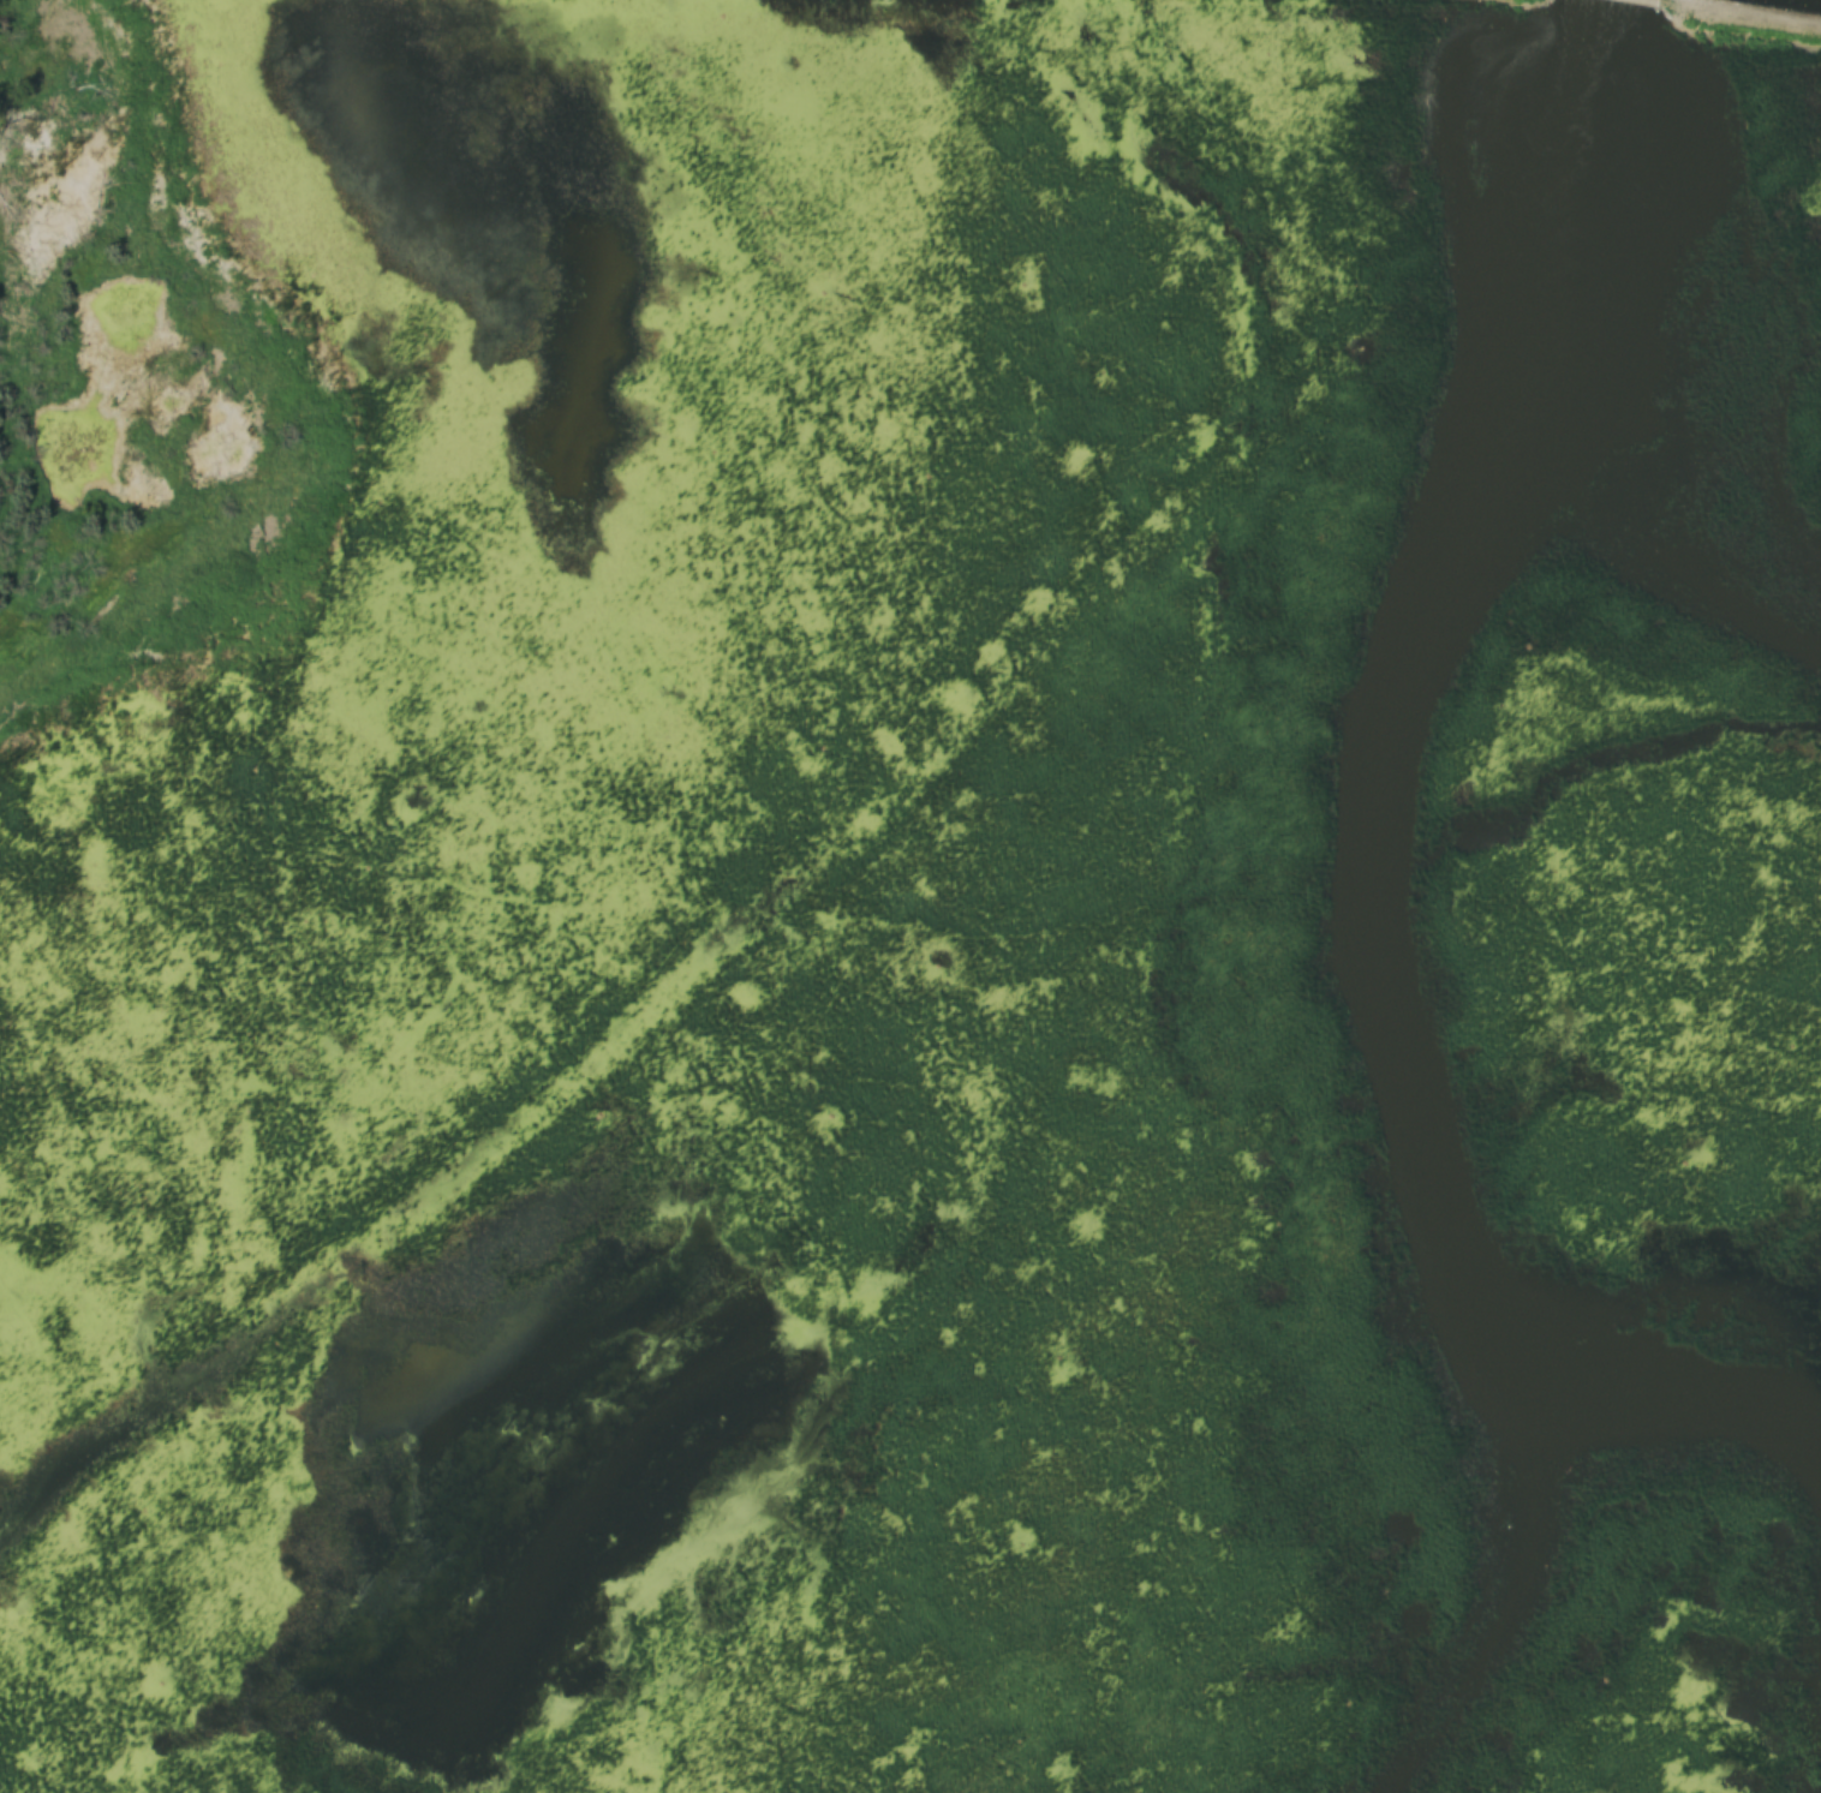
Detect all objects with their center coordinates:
dam: (1786, 5)
road: (1738, 14)
river: (1644, 310)

